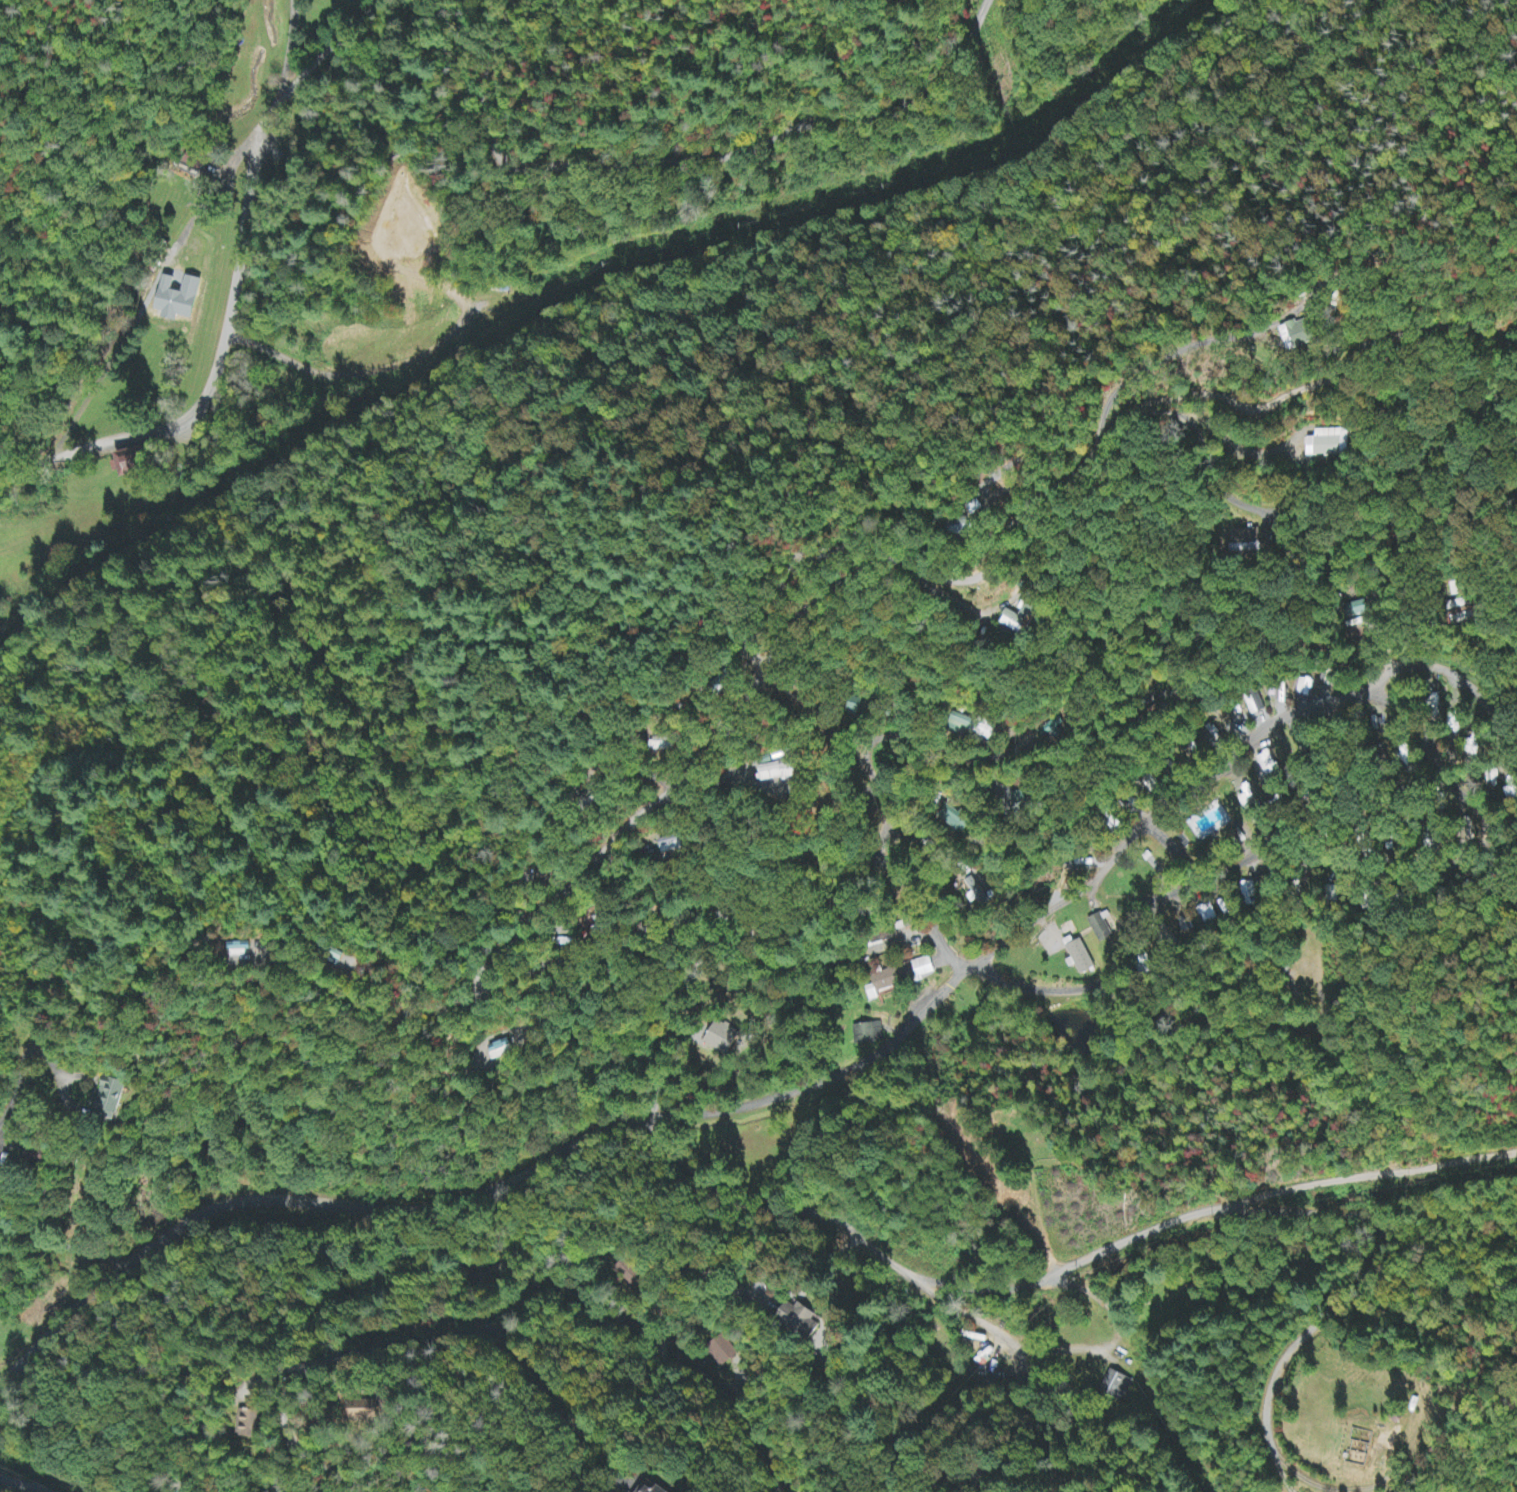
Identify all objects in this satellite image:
road: (735, 142)
road: (252, 231)
building: (1297, 336)
building: (1328, 443)
road: (49, 444)
building: (130, 462)
road: (827, 590)
building: (1018, 619)
building: (1378, 703)
building: (973, 728)
building: (774, 772)
road: (220, 788)
building: (955, 819)
road: (1123, 844)
road: (883, 859)
building: (1101, 928)
building: (1082, 957)
road: (834, 965)
building: (923, 968)
road: (1105, 972)
building: (884, 984)
road: (685, 1017)
building: (868, 1034)
building: (109, 1098)
road: (745, 1106)
road: (235, 1210)
road: (563, 1241)
road: (436, 1262)
road: (683, 1265)
road: (1063, 1267)
road: (553, 1272)
building: (799, 1320)
road: (311, 1347)
building: (722, 1353)
road: (374, 1355)
building: (1116, 1385)
road: (702, 1407)
building: (367, 1410)
building: (249, 1425)
road: (243, 1445)
building: (653, 1489)

